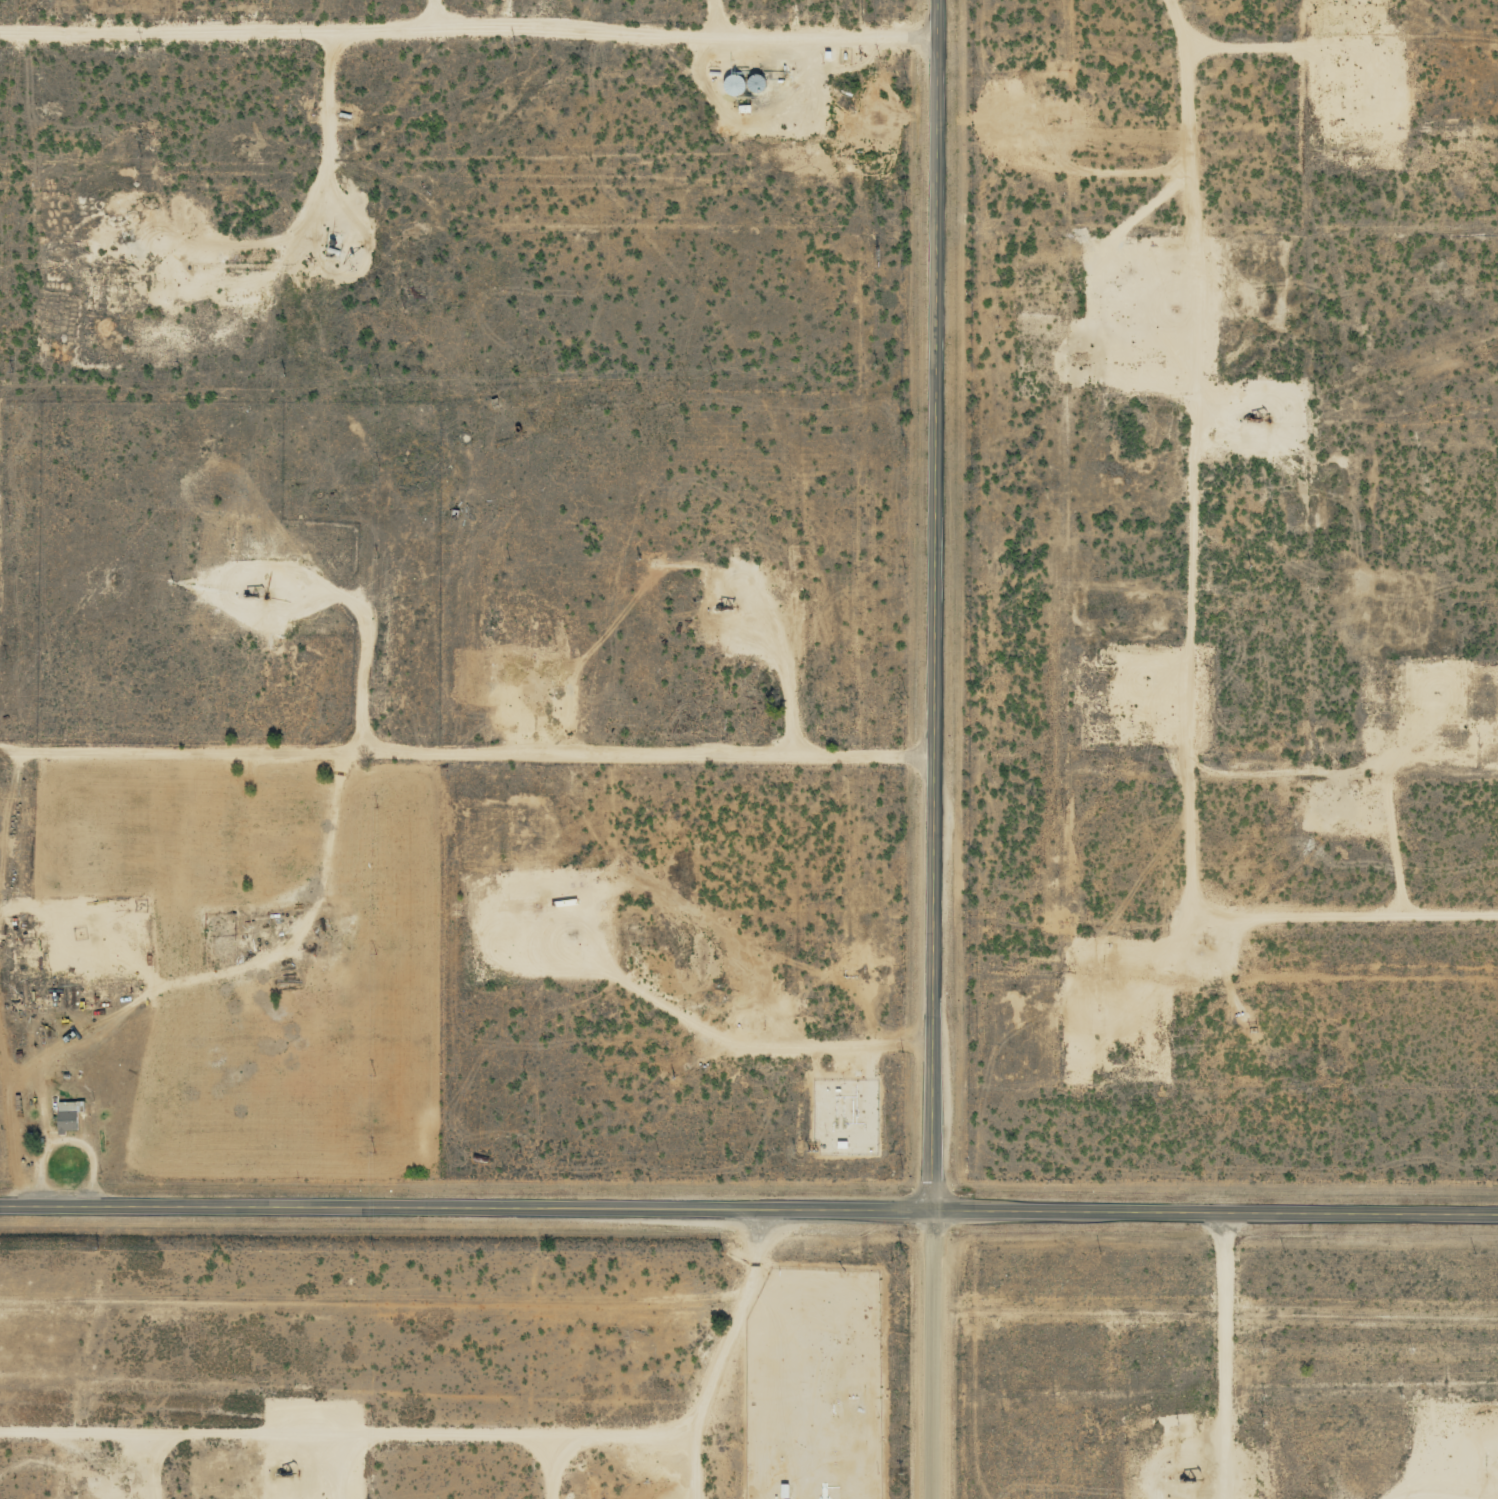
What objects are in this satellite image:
road: (470, 20)
road: (1350, 351)
road: (1193, 574)
road: (940, 606)
road: (470, 746)
road: (749, 1207)
road: (729, 1352)
road: (936, 1355)
road: (1230, 1355)
road: (357, 1421)

